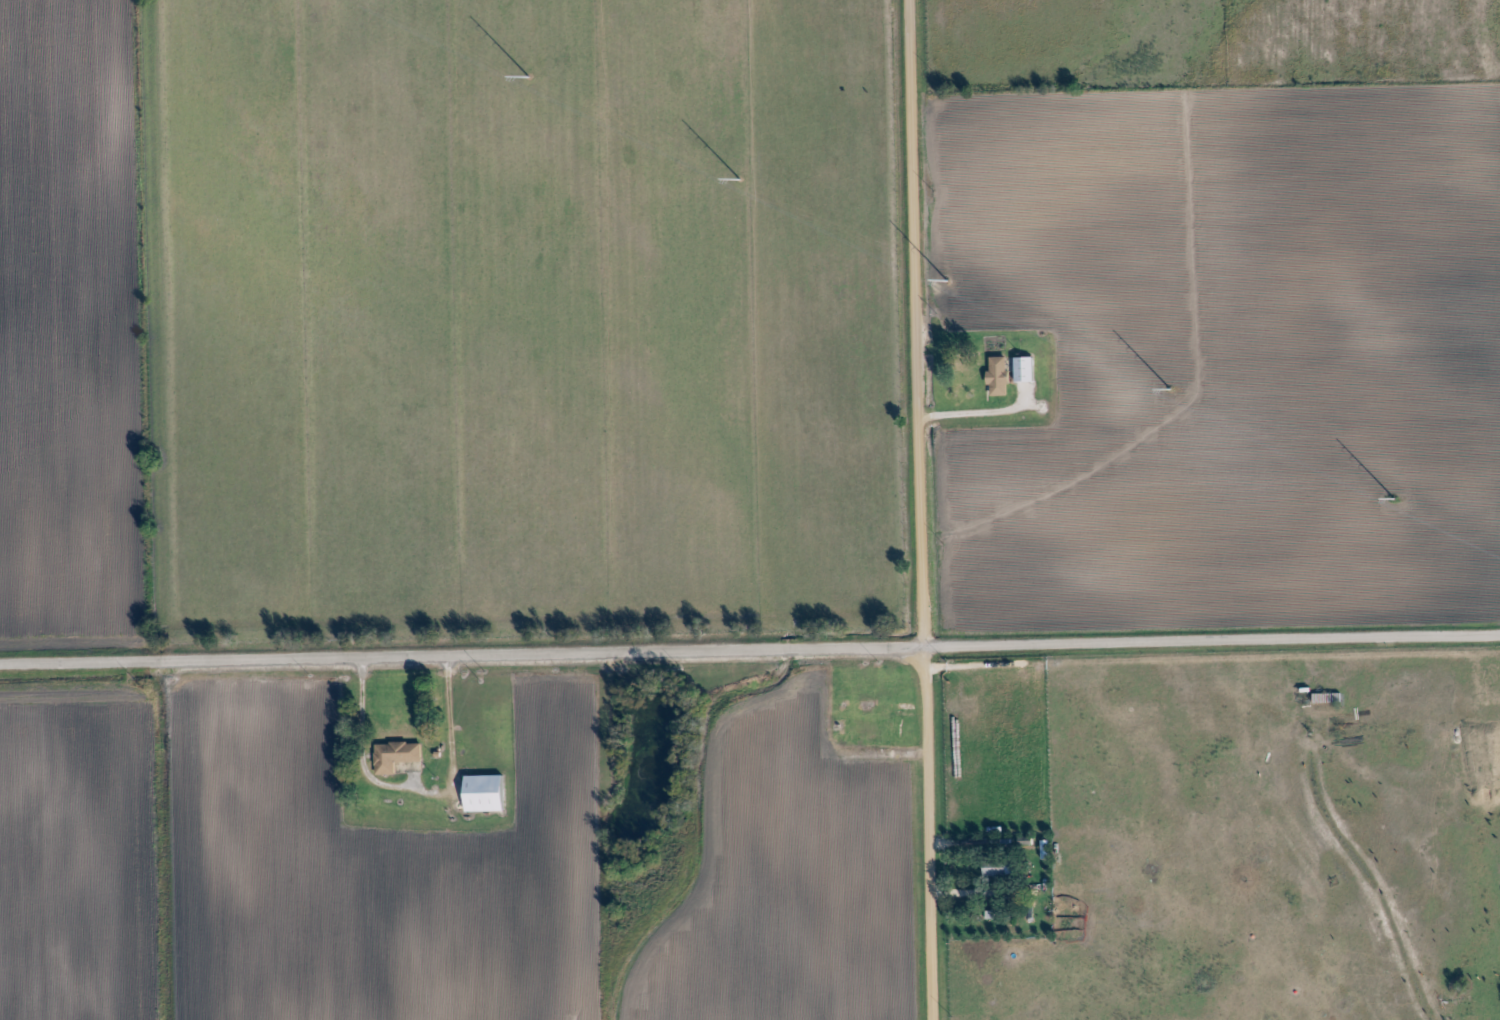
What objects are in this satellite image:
building: (1025, 369)
building: (999, 376)
road: (1000, 410)
road: (923, 510)
road: (750, 646)
road: (362, 741)
road: (895, 752)
building: (396, 756)
building: (486, 793)
road: (962, 888)

